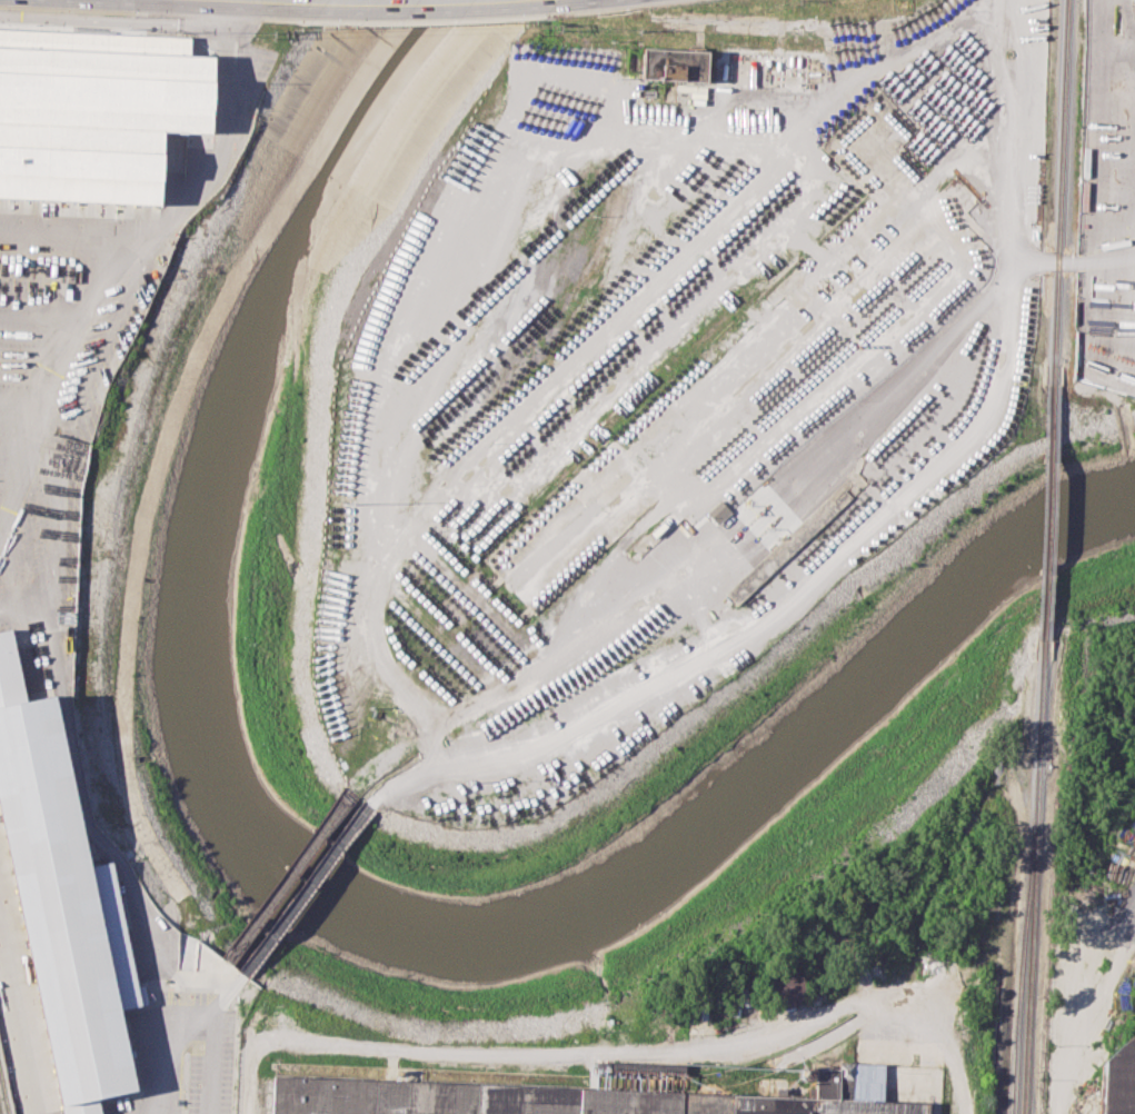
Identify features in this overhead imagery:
road: (252, 0)
railway: (1106, 3)
road: (391, 6)
road: (957, 19)
railway: (1007, 28)
building: (674, 63)
building: (90, 106)
railway: (1101, 140)
railway: (1061, 191)
road: (72, 238)
road: (109, 318)
railway: (1051, 508)
building: (716, 509)
road: (21, 605)
railway: (1033, 874)
river: (311, 891)
building: (59, 905)
railway: (1017, 974)
building: (787, 987)
road: (23, 998)
road: (1086, 998)
road: (188, 1013)
road: (594, 1060)
road: (251, 1077)
building: (1117, 1081)
railway: (3, 1093)
building: (554, 1098)

